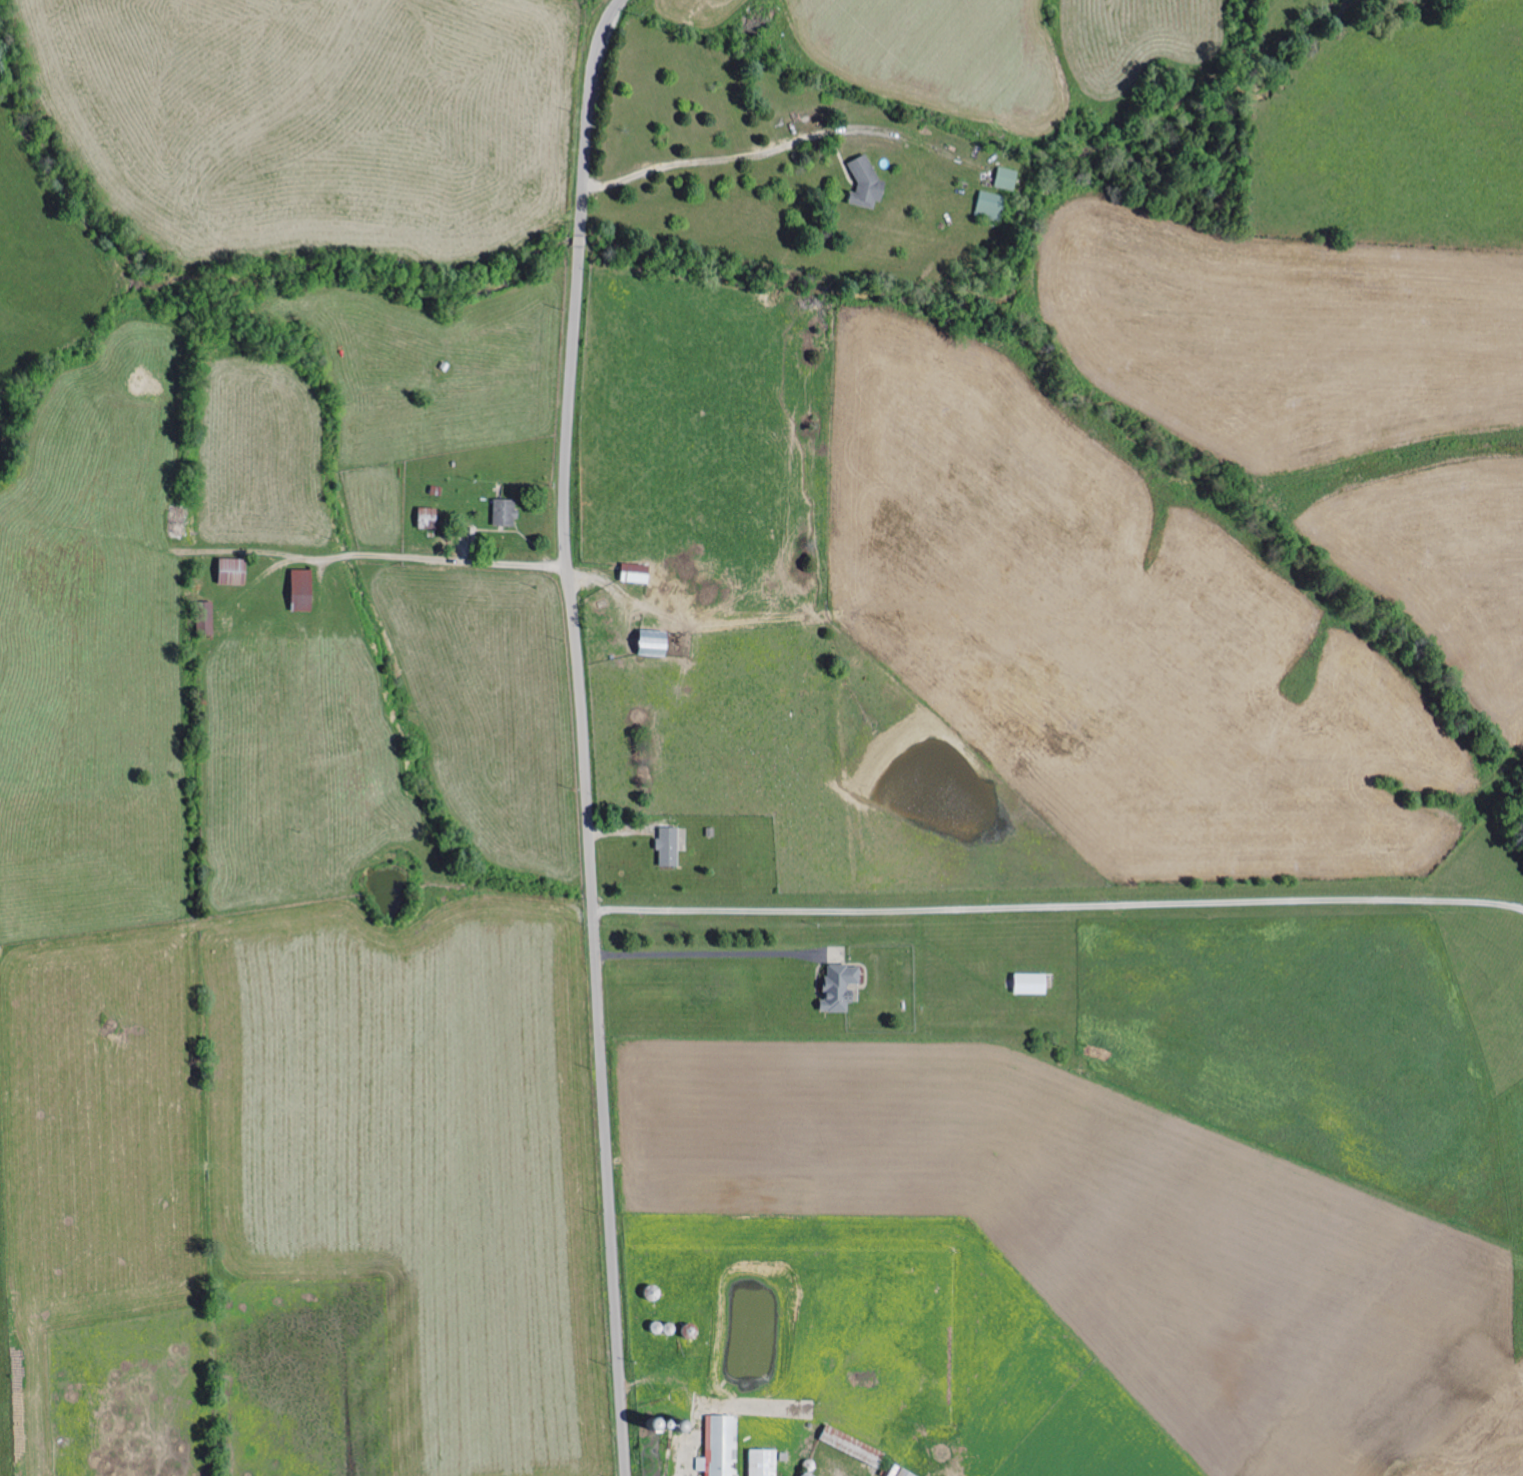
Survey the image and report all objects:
road: (747, 156)
building: (1005, 178)
building: (868, 183)
building: (990, 206)
building: (507, 512)
building: (428, 515)
building: (177, 524)
road: (353, 554)
building: (235, 572)
building: (638, 573)
building: (304, 590)
building: (658, 647)
road: (583, 734)
building: (668, 847)
road: (1058, 907)
road: (710, 955)
building: (1033, 984)
building: (842, 987)
building: (855, 1445)
building: (721, 1446)
building: (765, 1462)
building: (903, 1471)

